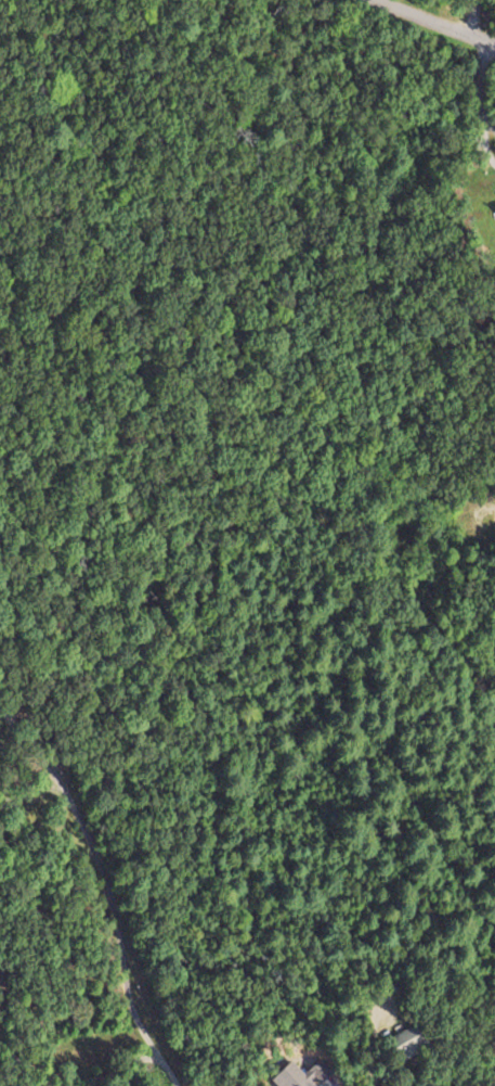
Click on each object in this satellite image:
road: (444, 23)
road: (491, 518)
building: (408, 1043)

